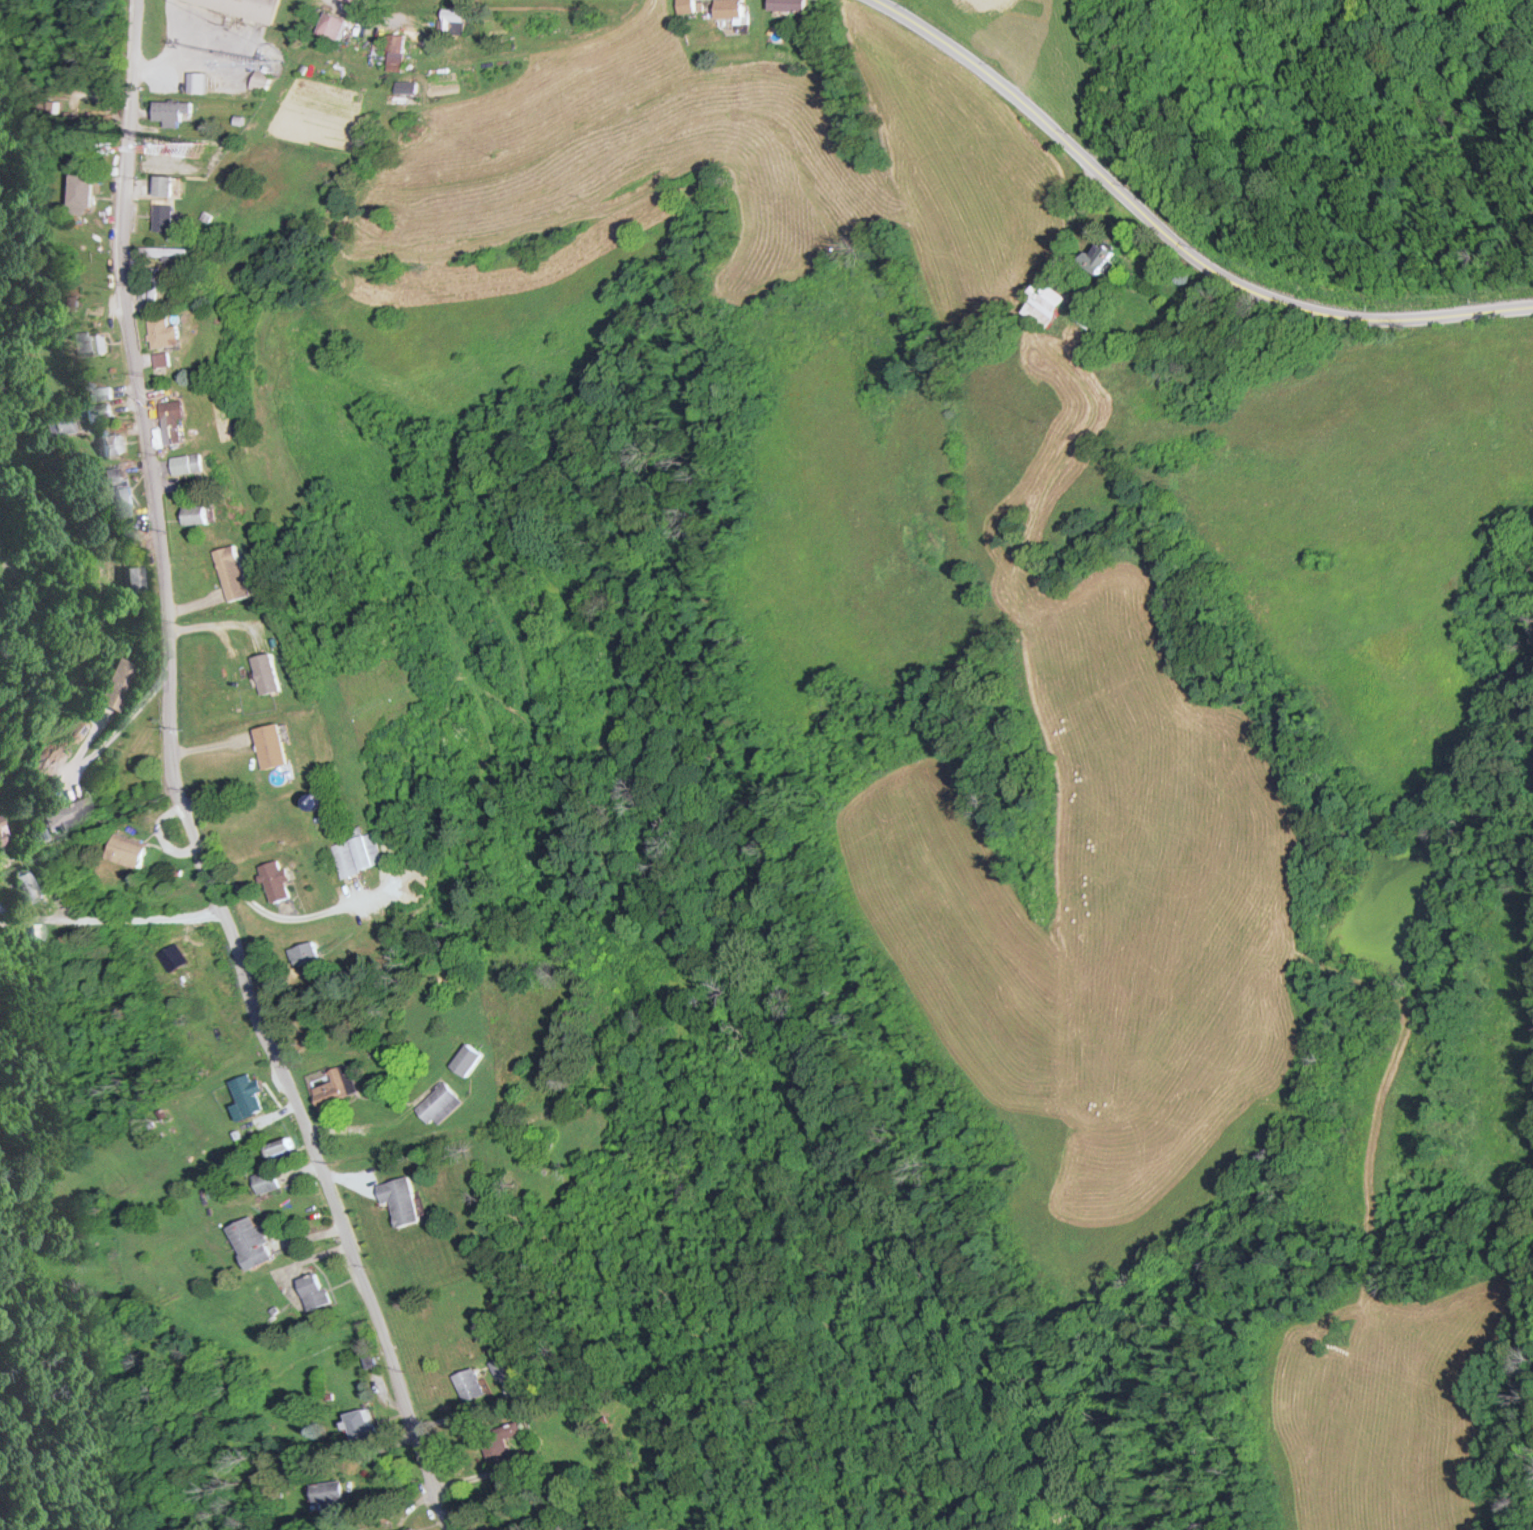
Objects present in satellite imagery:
building: (354, 1)
building: (791, 5)
building: (685, 6)
building: (246, 7)
building: (727, 9)
building: (452, 19)
building: (331, 26)
building: (393, 52)
building: (198, 82)
building: (173, 111)
building: (164, 186)
building: (83, 189)
building: (163, 218)
road: (1176, 237)
building: (168, 253)
building: (1097, 258)
building: (153, 287)
building: (1043, 306)
building: (163, 333)
building: (89, 343)
building: (102, 393)
building: (95, 412)
building: (171, 420)
building: (52, 425)
building: (111, 443)
building: (187, 462)
building: (112, 473)
building: (122, 500)
building: (196, 513)
building: (233, 572)
building: (135, 578)
building: (117, 683)
building: (222, 701)
building: (270, 745)
road: (176, 787)
building: (64, 814)
building: (0, 841)
building: (129, 850)
building: (357, 853)
building: (275, 880)
building: (22, 885)
road: (110, 920)
building: (303, 952)
building: (464, 1059)
building: (337, 1088)
building: (247, 1094)
building: (437, 1104)
building: (279, 1148)
building: (267, 1180)
building: (399, 1199)
building: (250, 1241)
building: (314, 1291)
building: (504, 1367)
building: (472, 1385)
building: (362, 1423)
building: (495, 1451)
building: (331, 1493)

